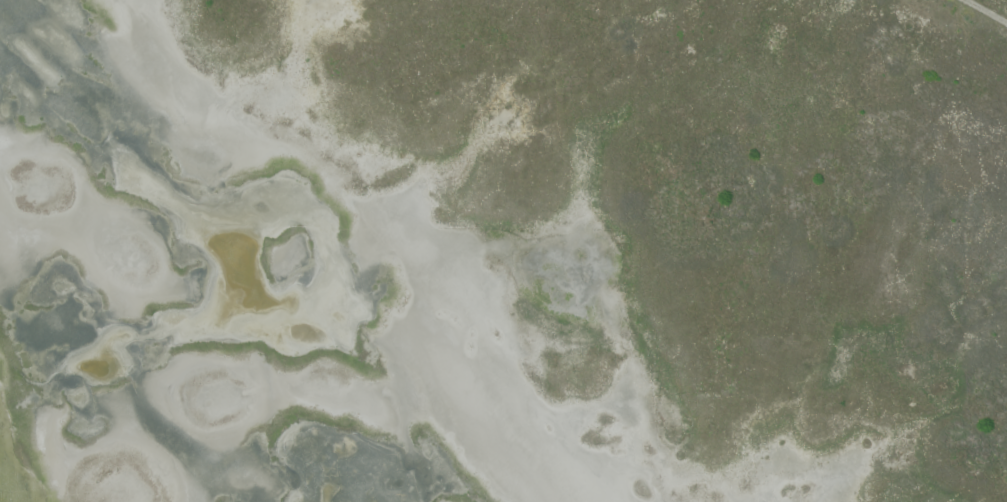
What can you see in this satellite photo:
road: (989, 9)
power plant: (503, 251)

